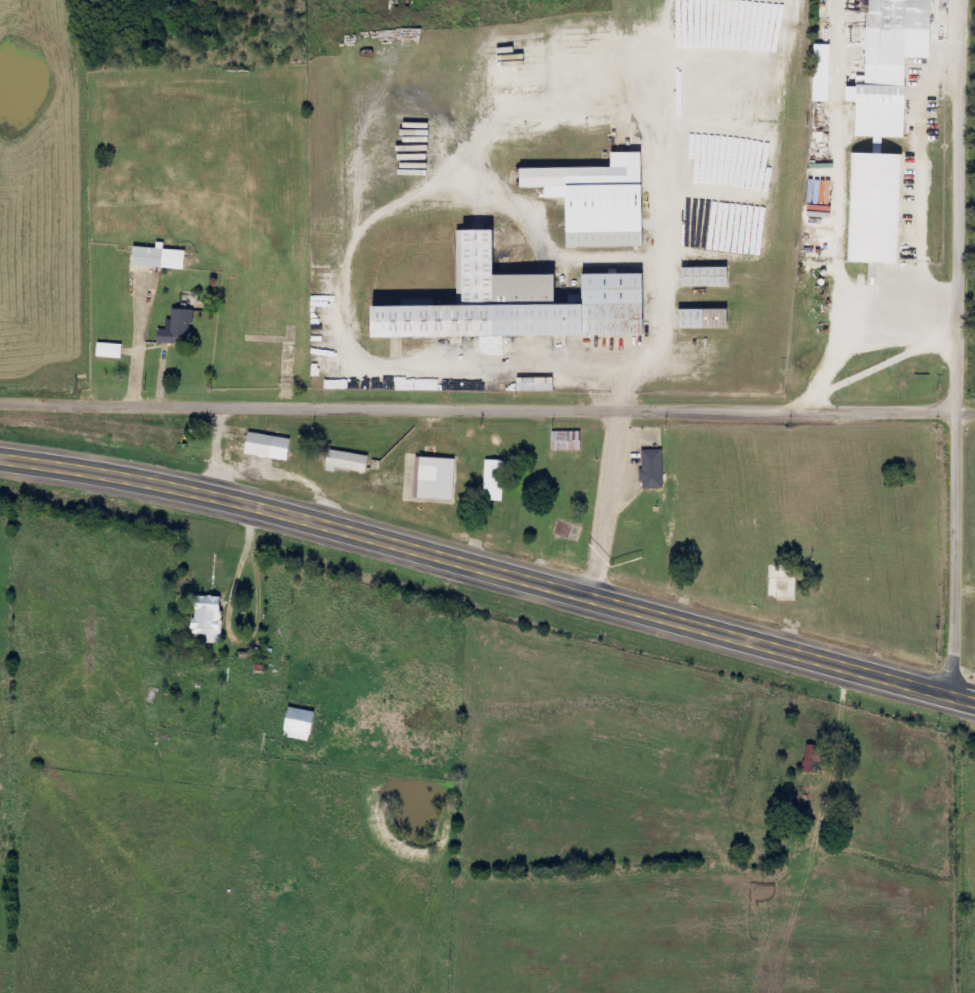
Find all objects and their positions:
building: (864, 5)
building: (889, 65)
building: (821, 72)
building: (596, 200)
building: (876, 207)
building: (160, 257)
building: (704, 277)
building: (516, 303)
building: (704, 318)
building: (178, 328)
road: (960, 348)
building: (110, 350)
building: (514, 383)
road: (487, 419)
building: (567, 441)
building: (269, 446)
building: (348, 461)
building: (654, 469)
building: (437, 478)
building: (495, 480)
road: (488, 570)
building: (209, 617)
building: (299, 724)
building: (814, 759)

